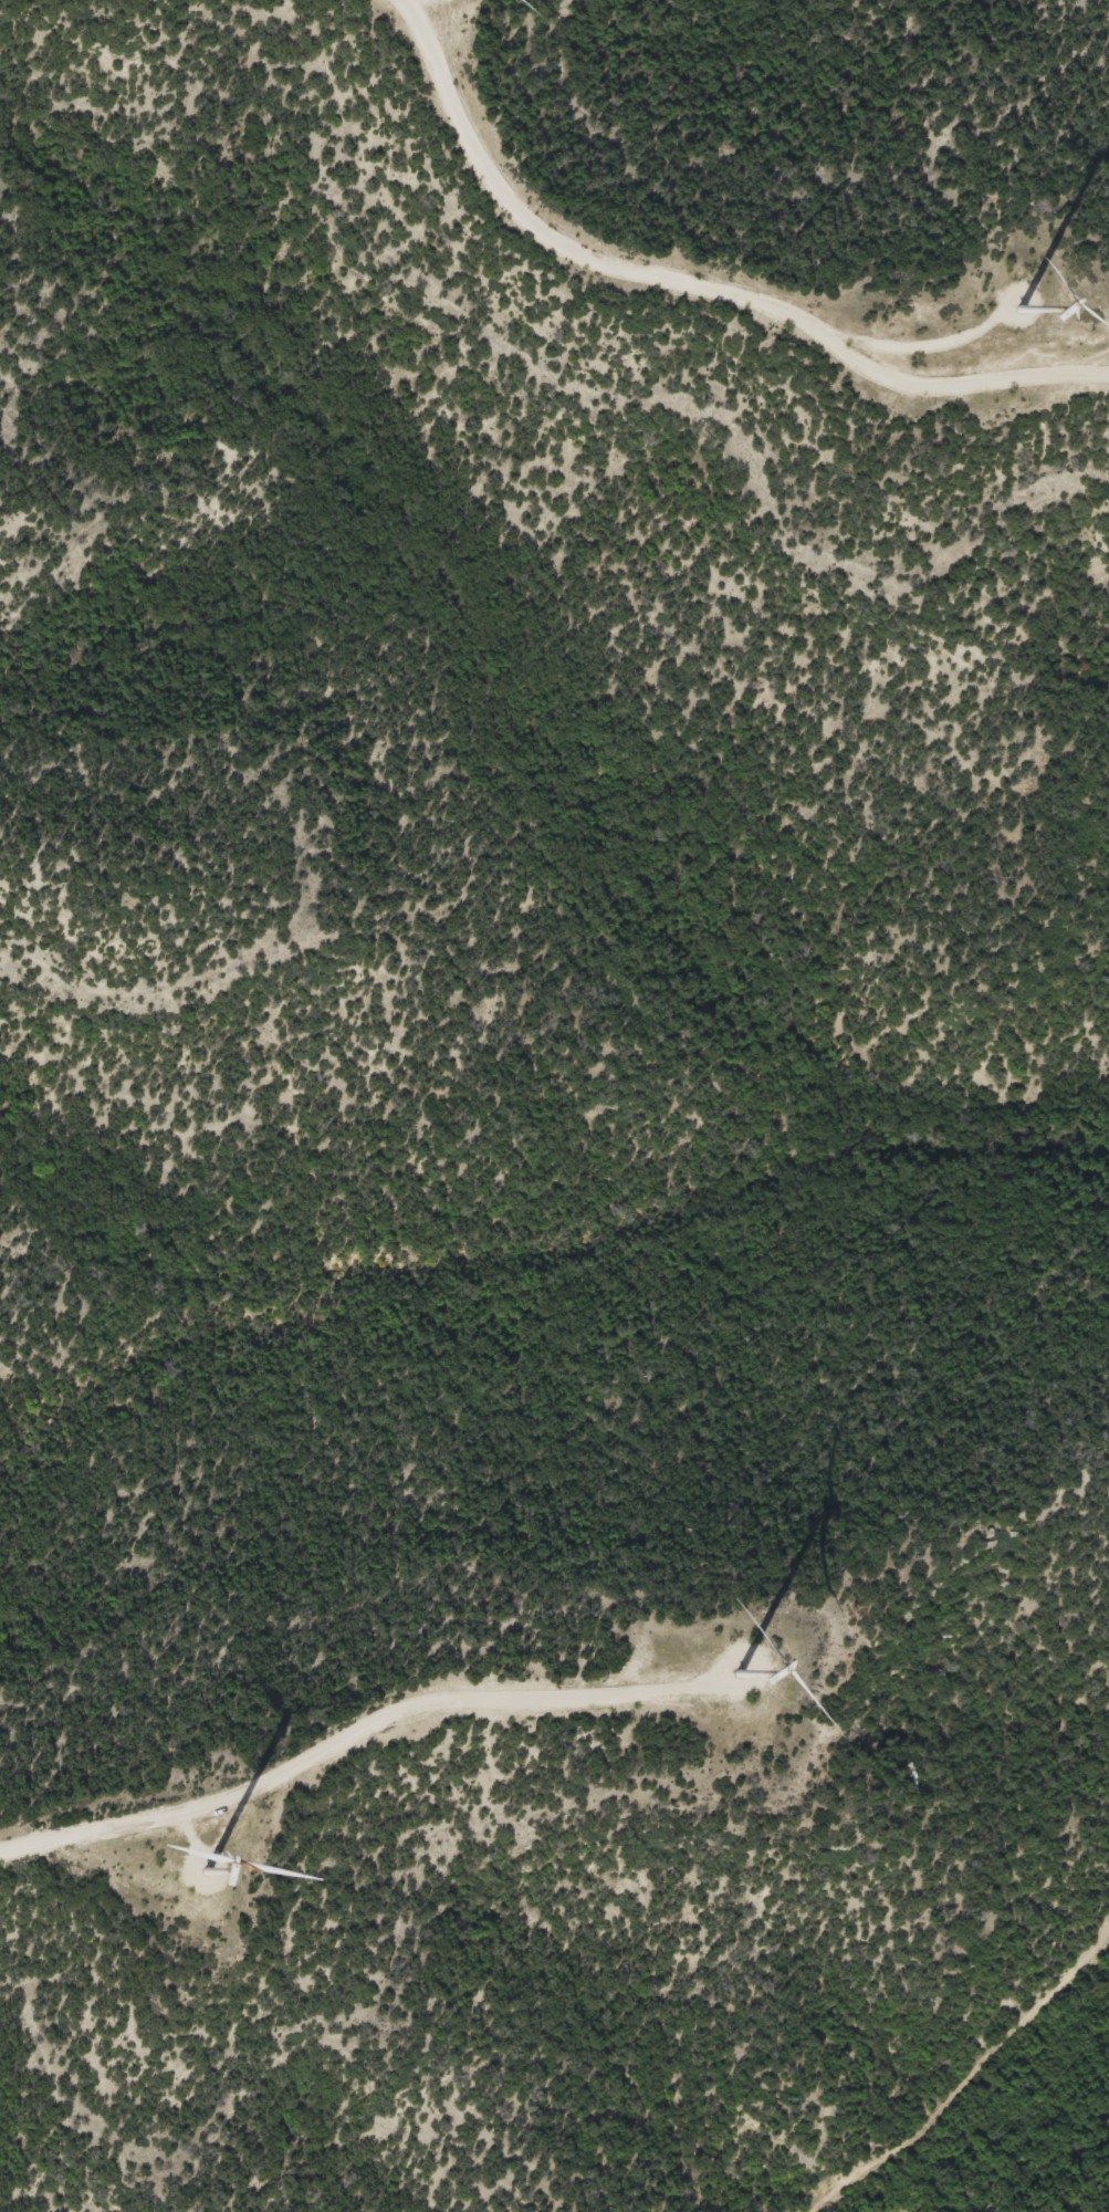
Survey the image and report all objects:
road: (703, 290)
wind turbine: (1024, 309)
wind turbine: (733, 1676)
road: (370, 1728)
wind turbine: (205, 1876)
road: (969, 2080)

